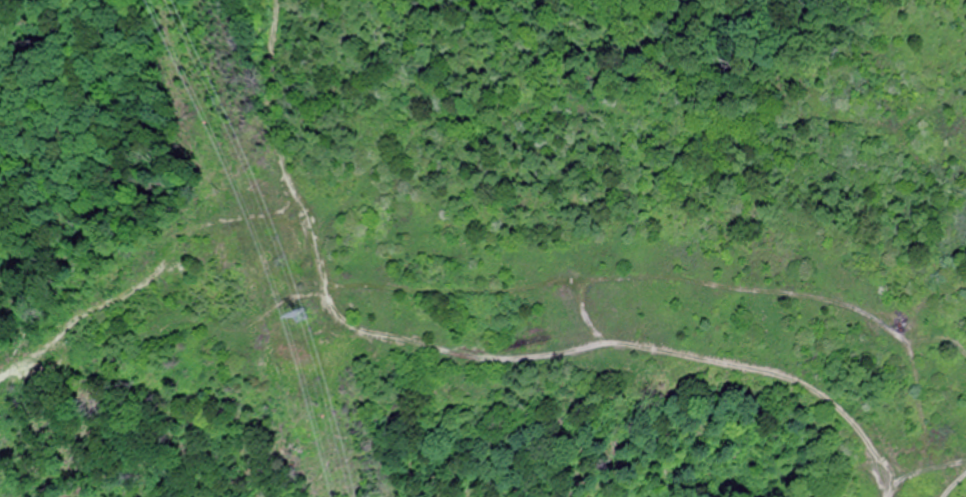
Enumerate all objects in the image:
power tower: (307, 314)

